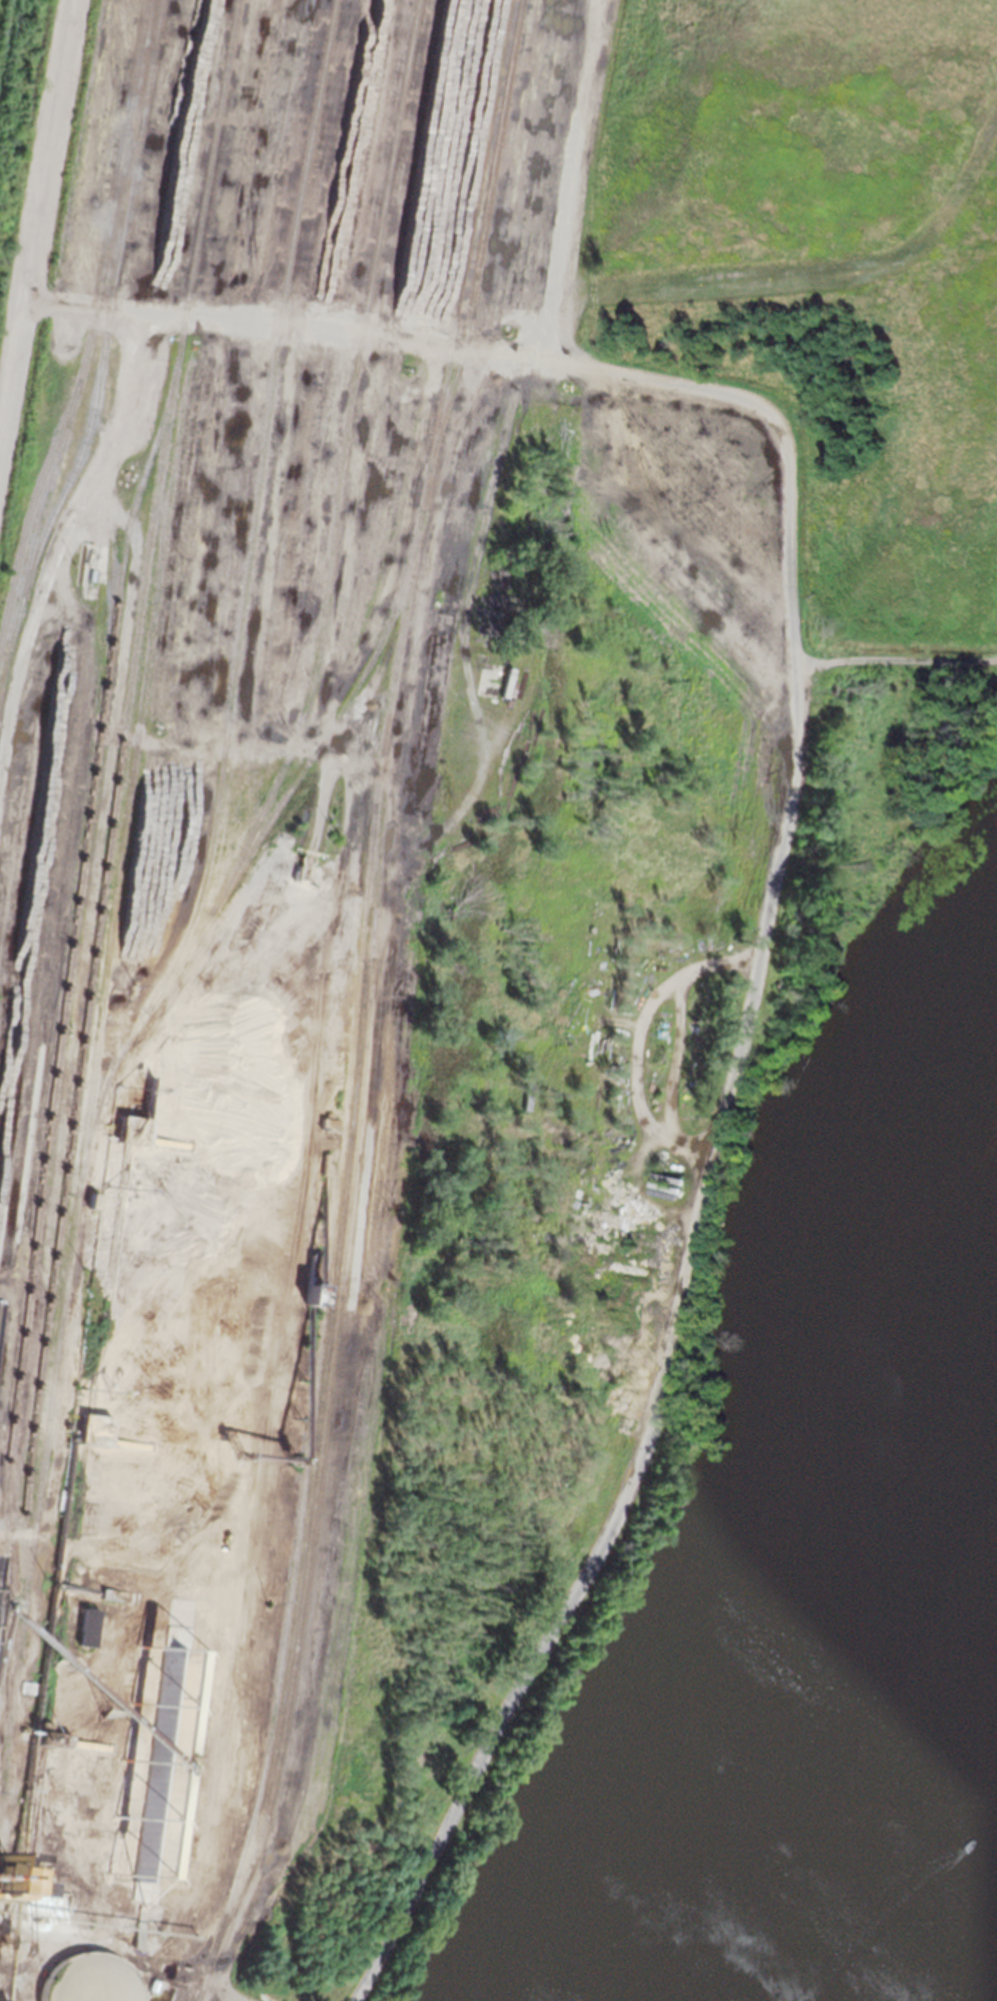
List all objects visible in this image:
railway: (7, 43)
road: (38, 212)
railway: (482, 235)
railway: (97, 327)
railway: (350, 465)
railway: (253, 509)
railway: (34, 548)
road: (54, 556)
building: (495, 670)
building: (491, 687)
railway: (136, 745)
railway: (112, 824)
building: (303, 865)
road: (774, 870)
railway: (219, 895)
railway: (57, 1067)
building: (329, 1121)
building: (134, 1129)
building: (327, 1164)
building: (672, 1175)
building: (93, 1199)
railway: (328, 1260)
building: (313, 1278)
railway: (3, 1284)
railway: (327, 1389)
building: (95, 1429)
building: (89, 1625)
building: (53, 1735)
building: (162, 1763)
building: (2, 1869)
building: (42, 1887)
river: (938, 1929)
building: (139, 1934)
building: (92, 1979)
building: (143, 1979)
road: (230, 1998)

